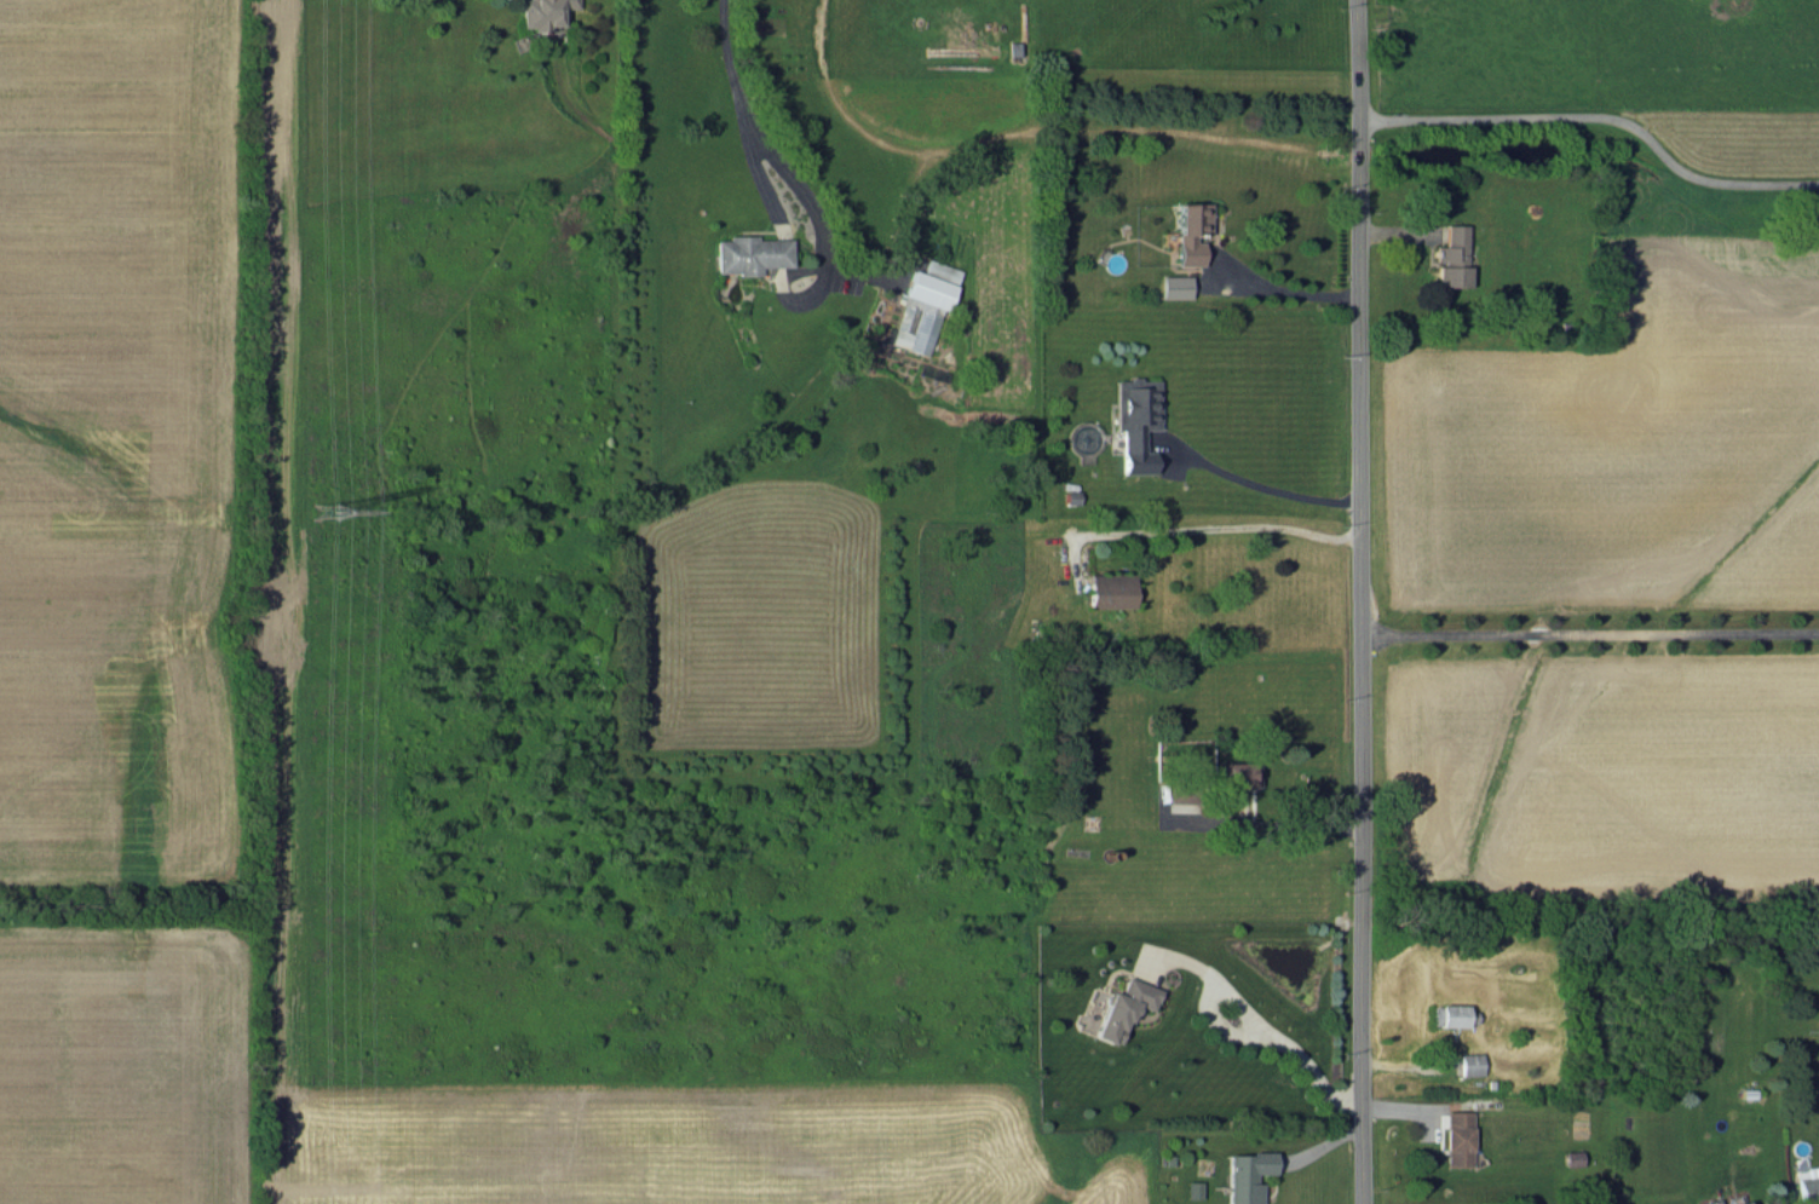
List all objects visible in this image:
building: (543, 12)
road: (737, 106)
road: (1598, 110)
building: (1188, 231)
building: (749, 253)
building: (1450, 257)
building: (1174, 286)
road: (1285, 290)
building: (921, 307)
building: (1134, 420)
road: (1265, 489)
power tower: (324, 511)
road: (1205, 526)
building: (1109, 589)
road: (1363, 601)
road: (1590, 634)
building: (1236, 773)
road: (1267, 825)
building: (1122, 1008)
building: (1449, 1014)
road: (1261, 1026)
building: (1469, 1062)
building: (1455, 1137)
building: (1245, 1175)
building: (1807, 1183)
building: (1191, 1188)
building: (1709, 1202)
building: (1738, 1202)

